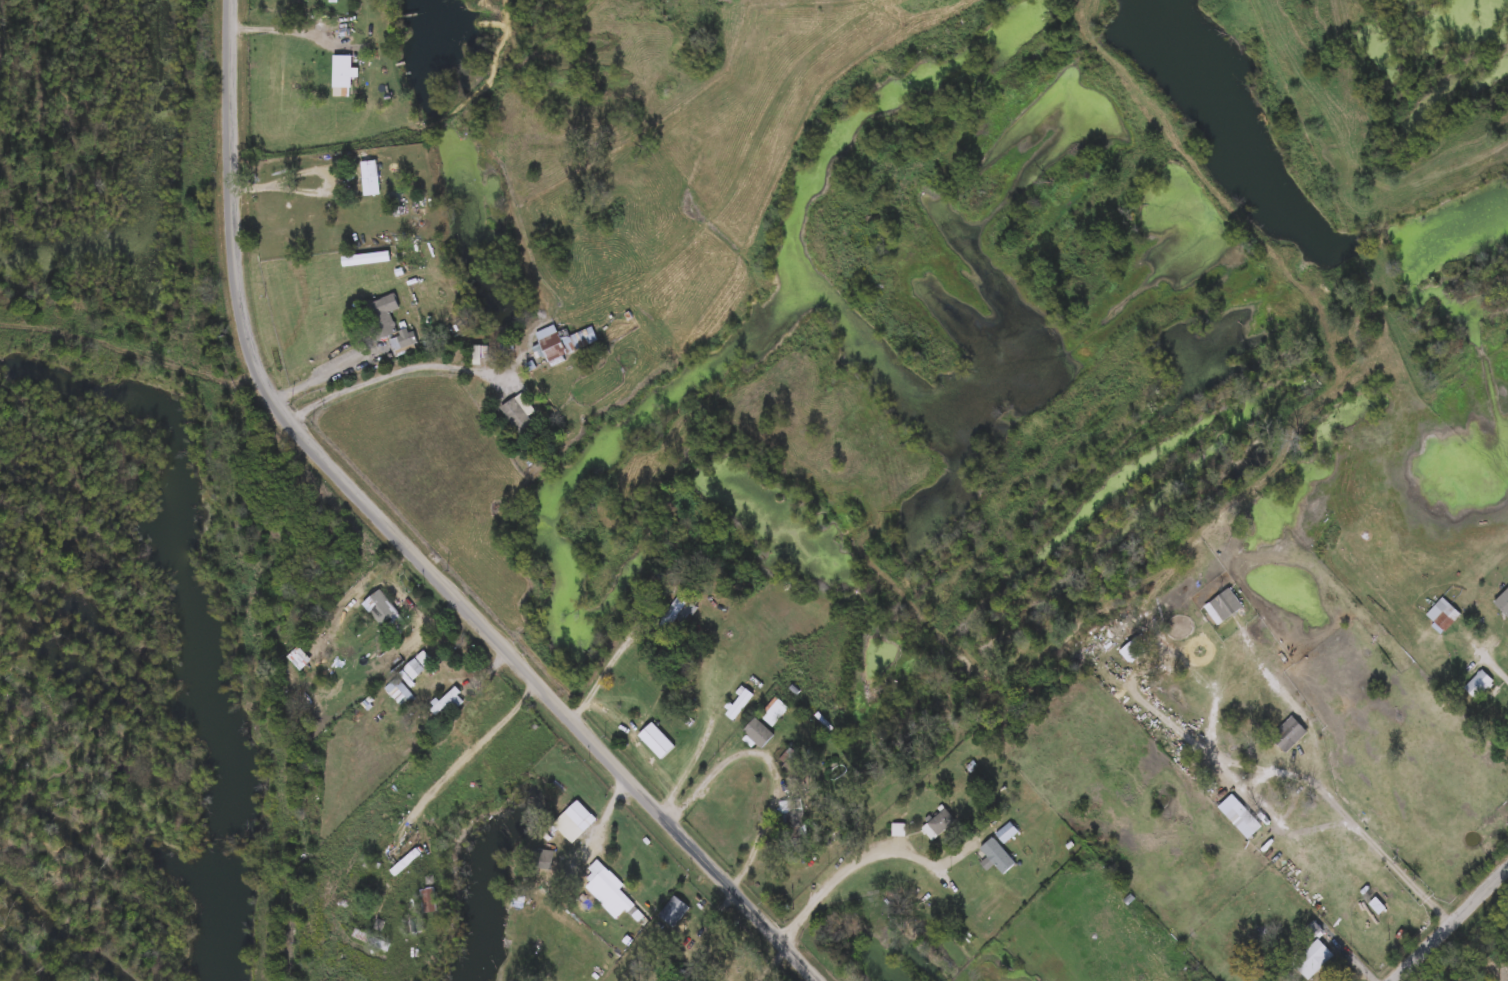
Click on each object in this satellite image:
building: (335, 0)
road: (282, 30)
building: (372, 177)
road: (285, 181)
building: (382, 317)
building: (568, 337)
road: (329, 372)
road: (383, 374)
building: (523, 412)
road: (410, 542)
building: (1224, 604)
building: (682, 605)
building: (395, 612)
road: (418, 612)
building: (1444, 612)
road: (445, 616)
building: (307, 651)
road: (1489, 651)
building: (421, 661)
road: (610, 672)
road: (490, 673)
building: (1483, 678)
building: (402, 690)
building: (742, 701)
building: (775, 708)
building: (761, 730)
building: (1290, 731)
building: (659, 738)
road: (766, 749)
building: (796, 764)
road: (692, 765)
road: (452, 770)
road: (613, 812)
building: (795, 816)
building: (578, 819)
building: (944, 819)
road: (1381, 842)
building: (999, 853)
building: (544, 855)
road: (777, 864)
road: (842, 867)
building: (607, 877)
building: (430, 897)
building: (677, 908)
road: (1451, 926)
building: (1314, 951)
road: (774, 963)
road: (1358, 963)

